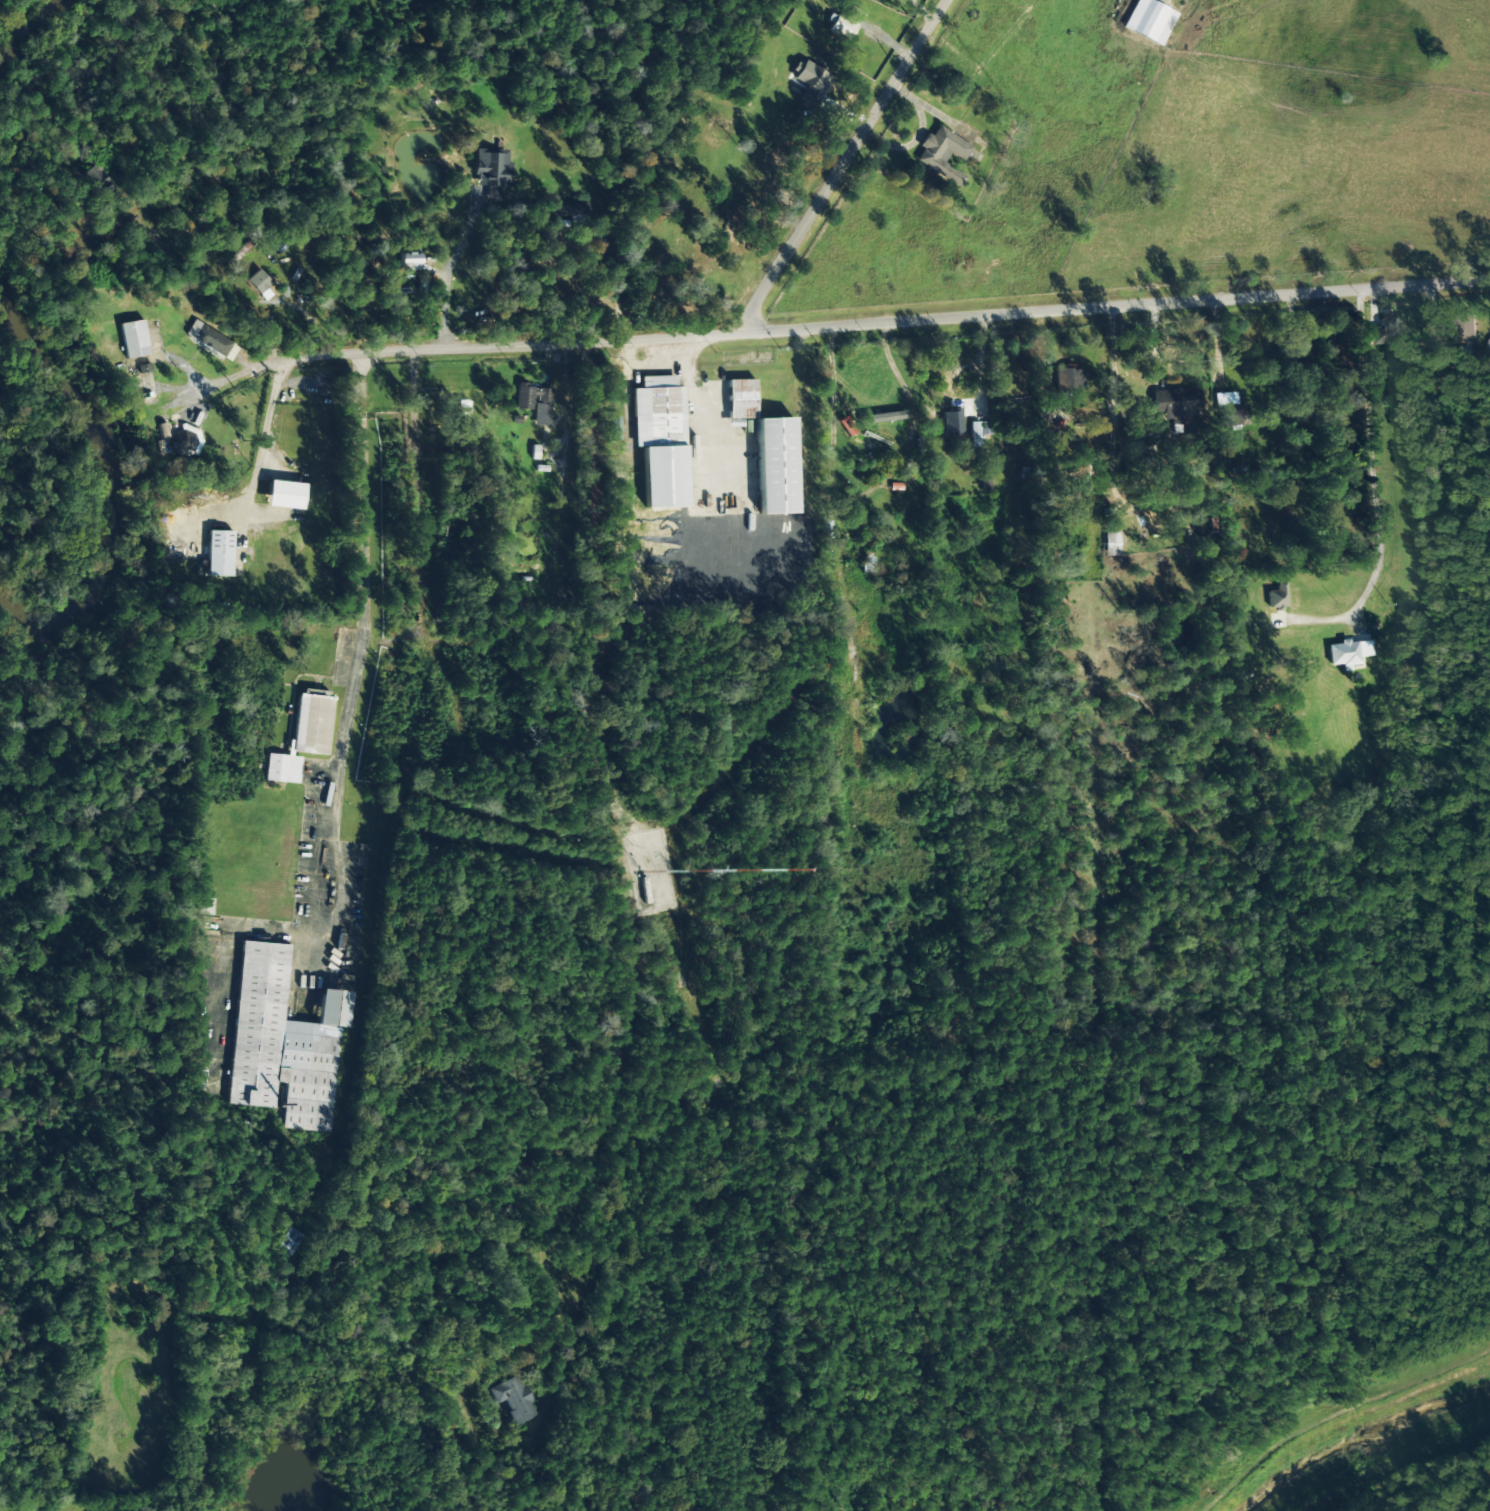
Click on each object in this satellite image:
building: (1149, 21)
building: (846, 22)
river: (30, 28)
building: (809, 83)
building: (942, 154)
road: (840, 167)
building: (491, 168)
building: (96, 181)
building: (569, 213)
building: (408, 259)
building: (258, 282)
road: (891, 324)
building: (1384, 330)
building: (133, 339)
building: (208, 339)
building: (1069, 379)
building: (740, 399)
building: (523, 403)
building: (1172, 406)
building: (1230, 410)
building: (941, 421)
building: (846, 427)
building: (973, 431)
building: (186, 439)
building: (660, 440)
building: (867, 443)
road: (259, 445)
road: (570, 450)
building: (775, 466)
river: (112, 481)
road: (1371, 486)
road: (417, 494)
building: (285, 495)
building: (1110, 544)
building: (219, 553)
building: (1277, 597)
road: (601, 611)
building: (1348, 653)
road: (354, 671)
building: (303, 736)
building: (282, 1043)
building: (289, 1241)
building: (512, 1399)

